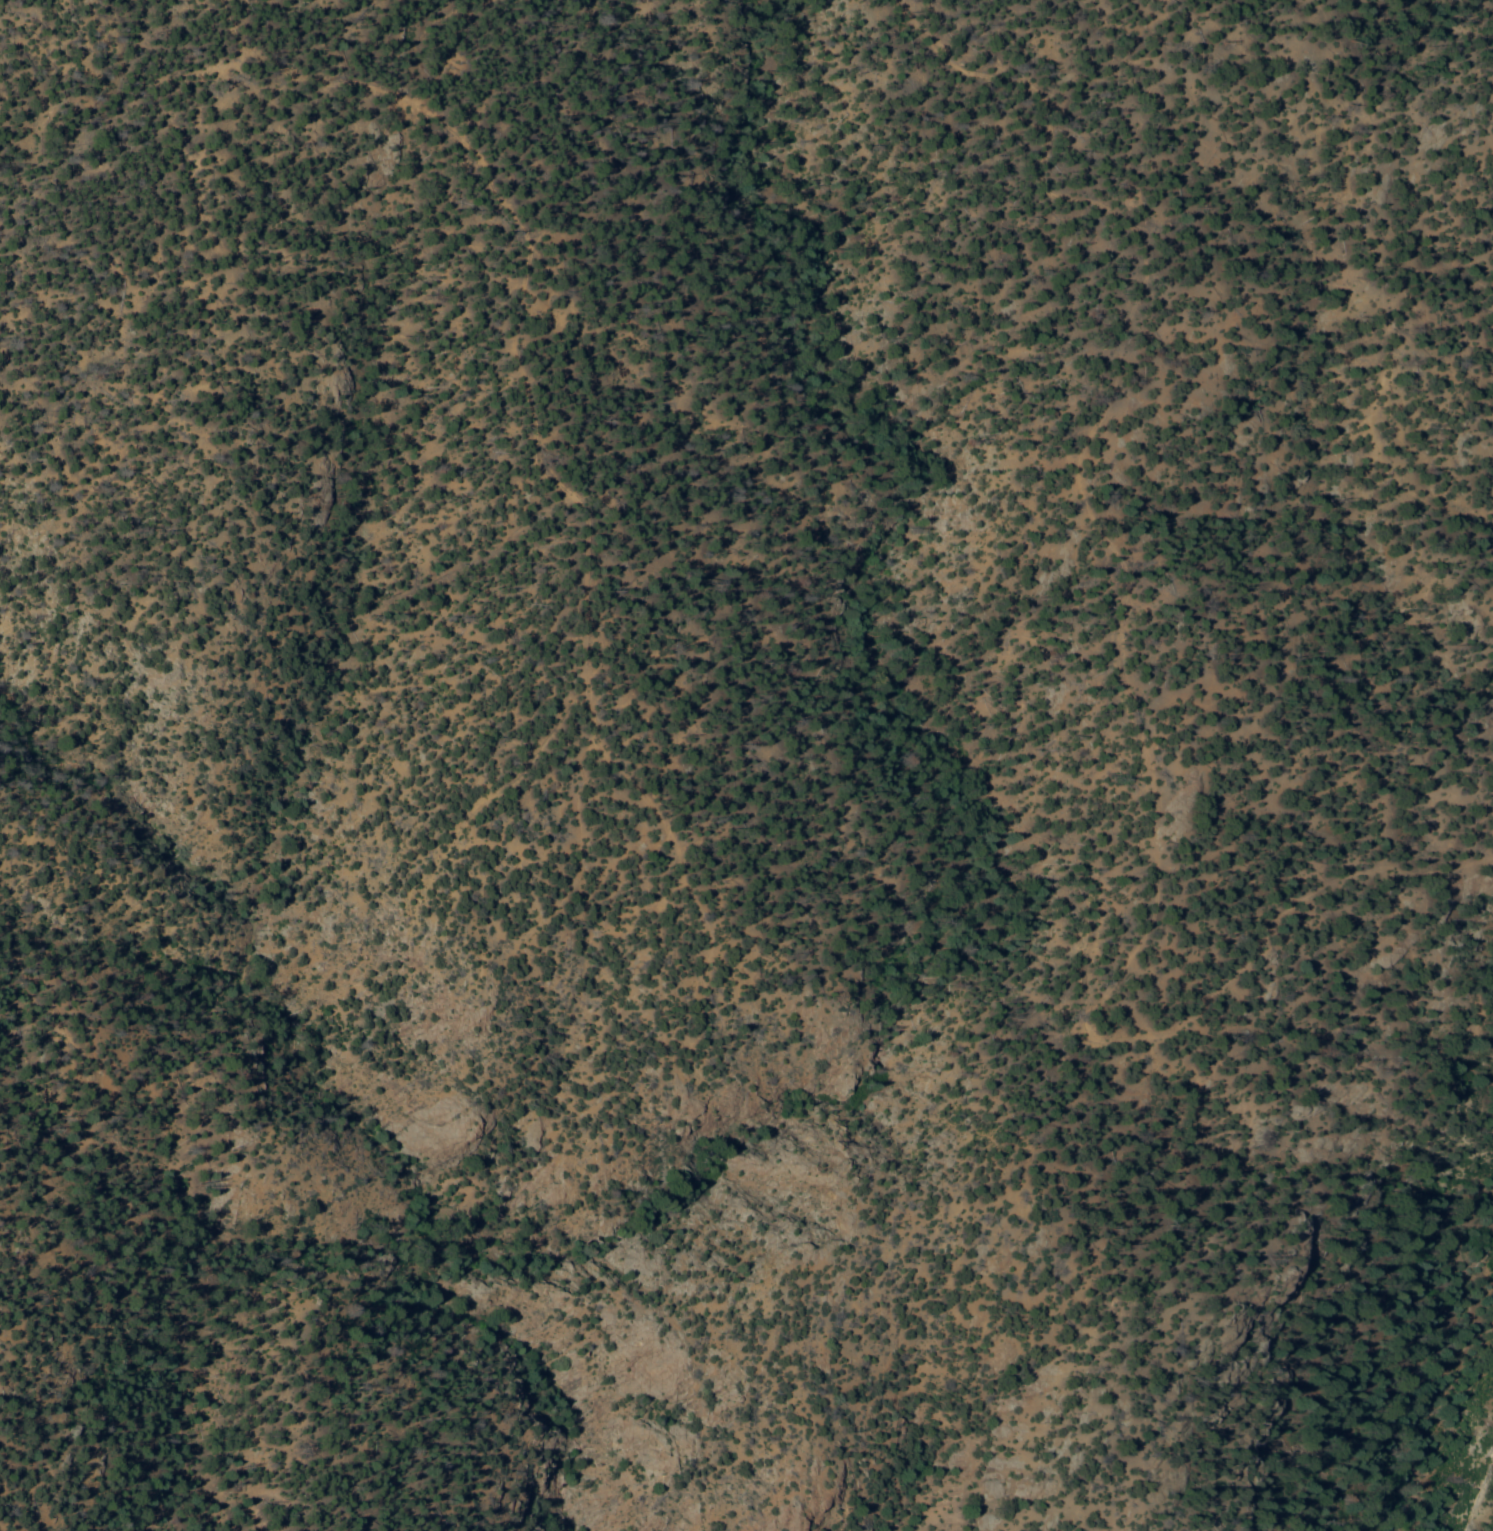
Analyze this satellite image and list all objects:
road: (522, 425)

